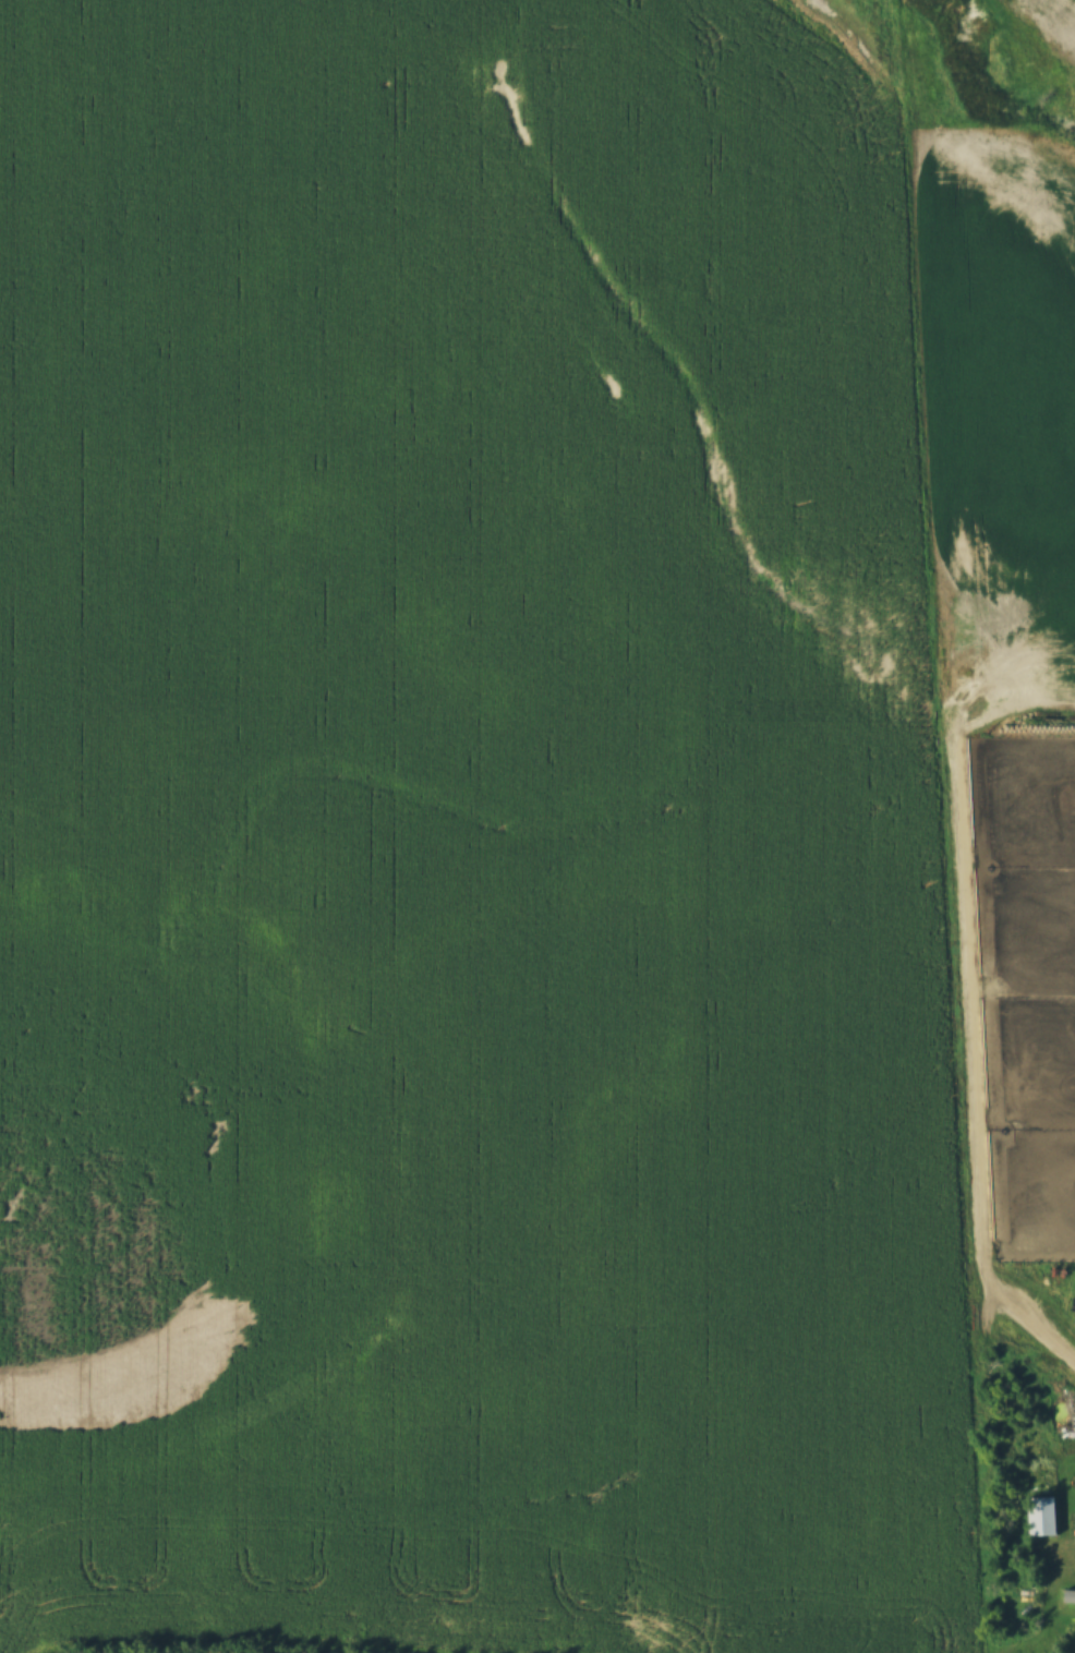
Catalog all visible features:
building: (1048, 1519)
building: (1073, 1607)

